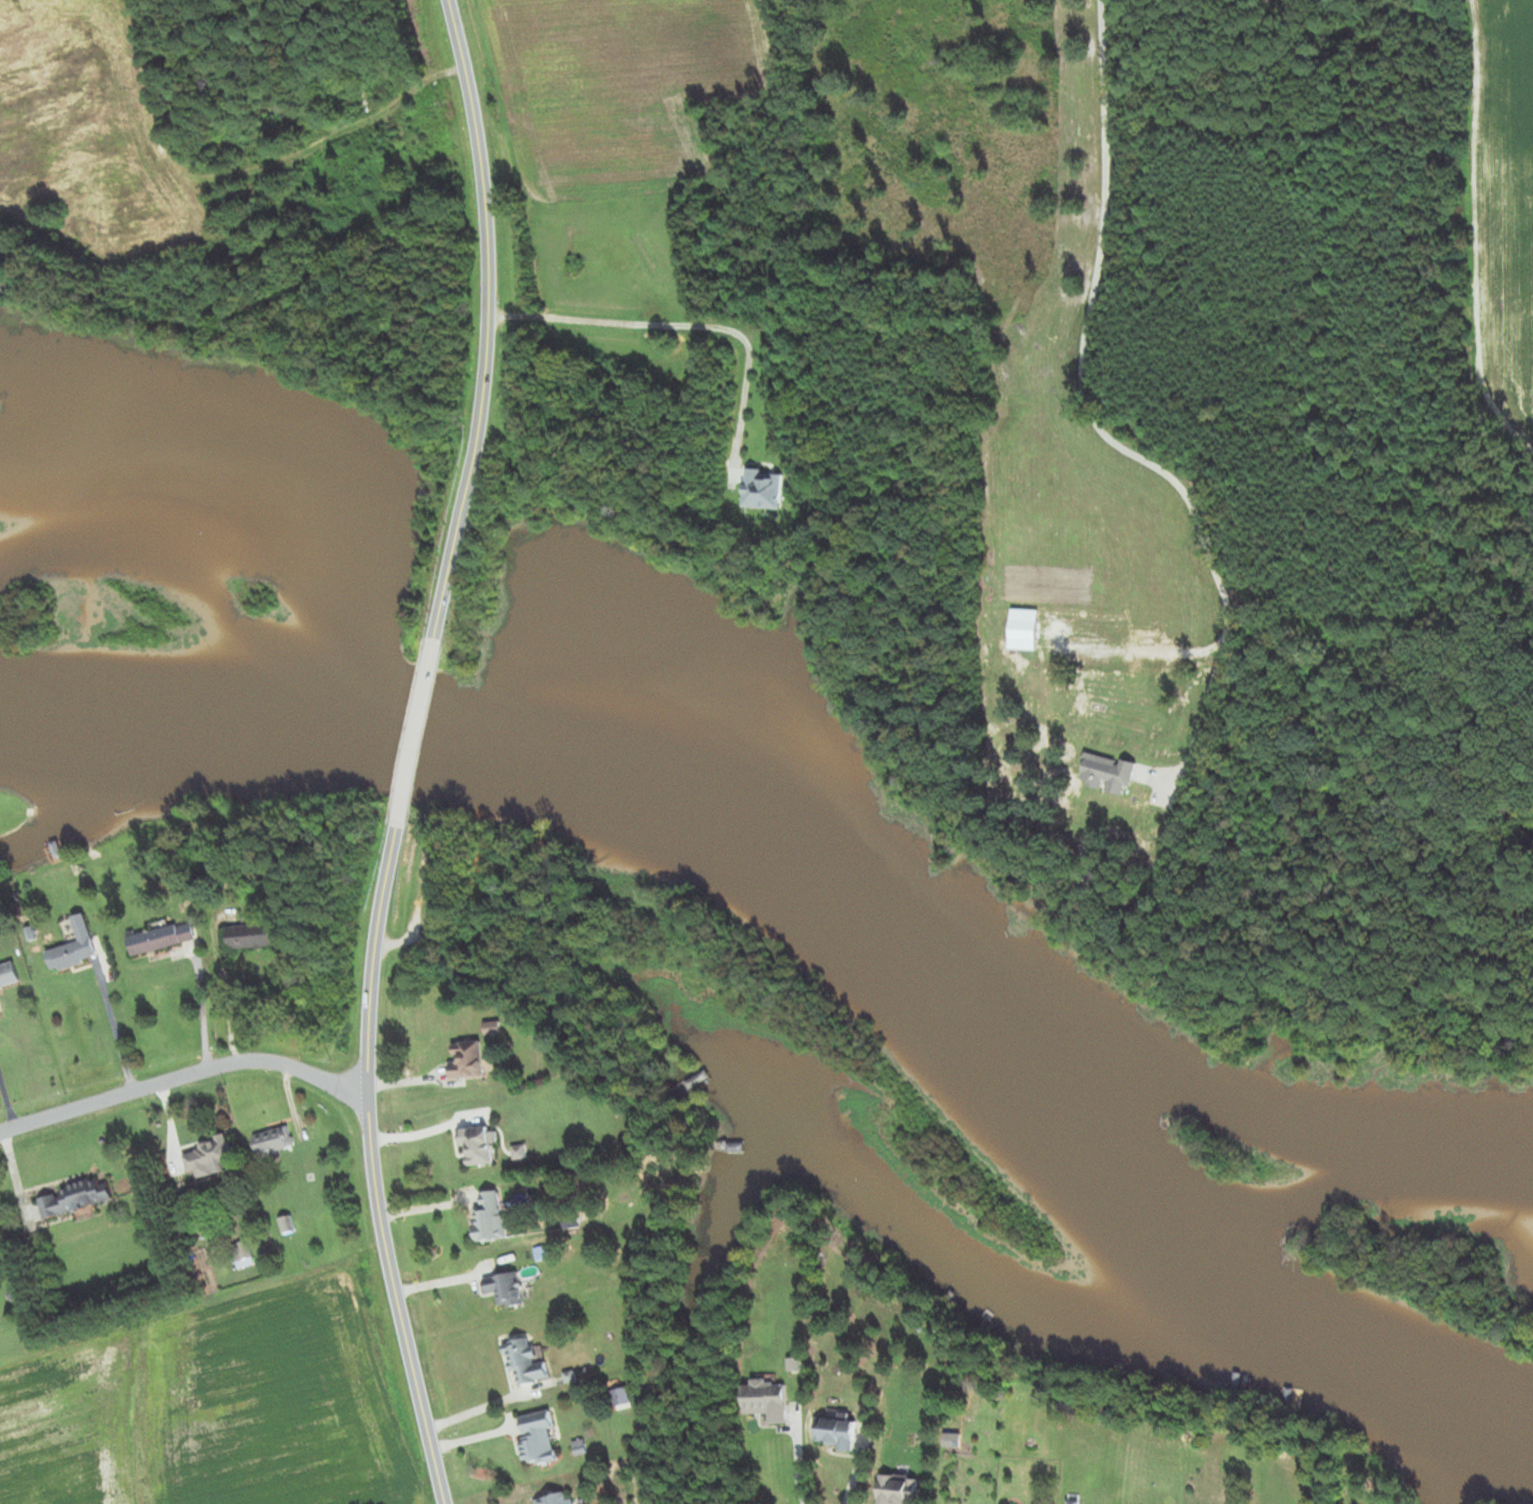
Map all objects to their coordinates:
road: (486, 319)
building: (762, 489)
river: (62, 727)
road: (415, 734)
building: (249, 937)
building: (159, 939)
river: (885, 946)
building: (73, 948)
building: (7, 976)
building: (464, 1061)
road: (183, 1077)
building: (692, 1082)
building: (272, 1141)
building: (476, 1146)
building: (735, 1148)
building: (208, 1158)
road: (370, 1169)
building: (74, 1198)
building: (489, 1220)
building: (285, 1225)
building: (242, 1255)
building: (504, 1290)
building: (524, 1363)
building: (766, 1400)
building: (835, 1432)
building: (536, 1438)
building: (896, 1489)
building: (554, 1499)

